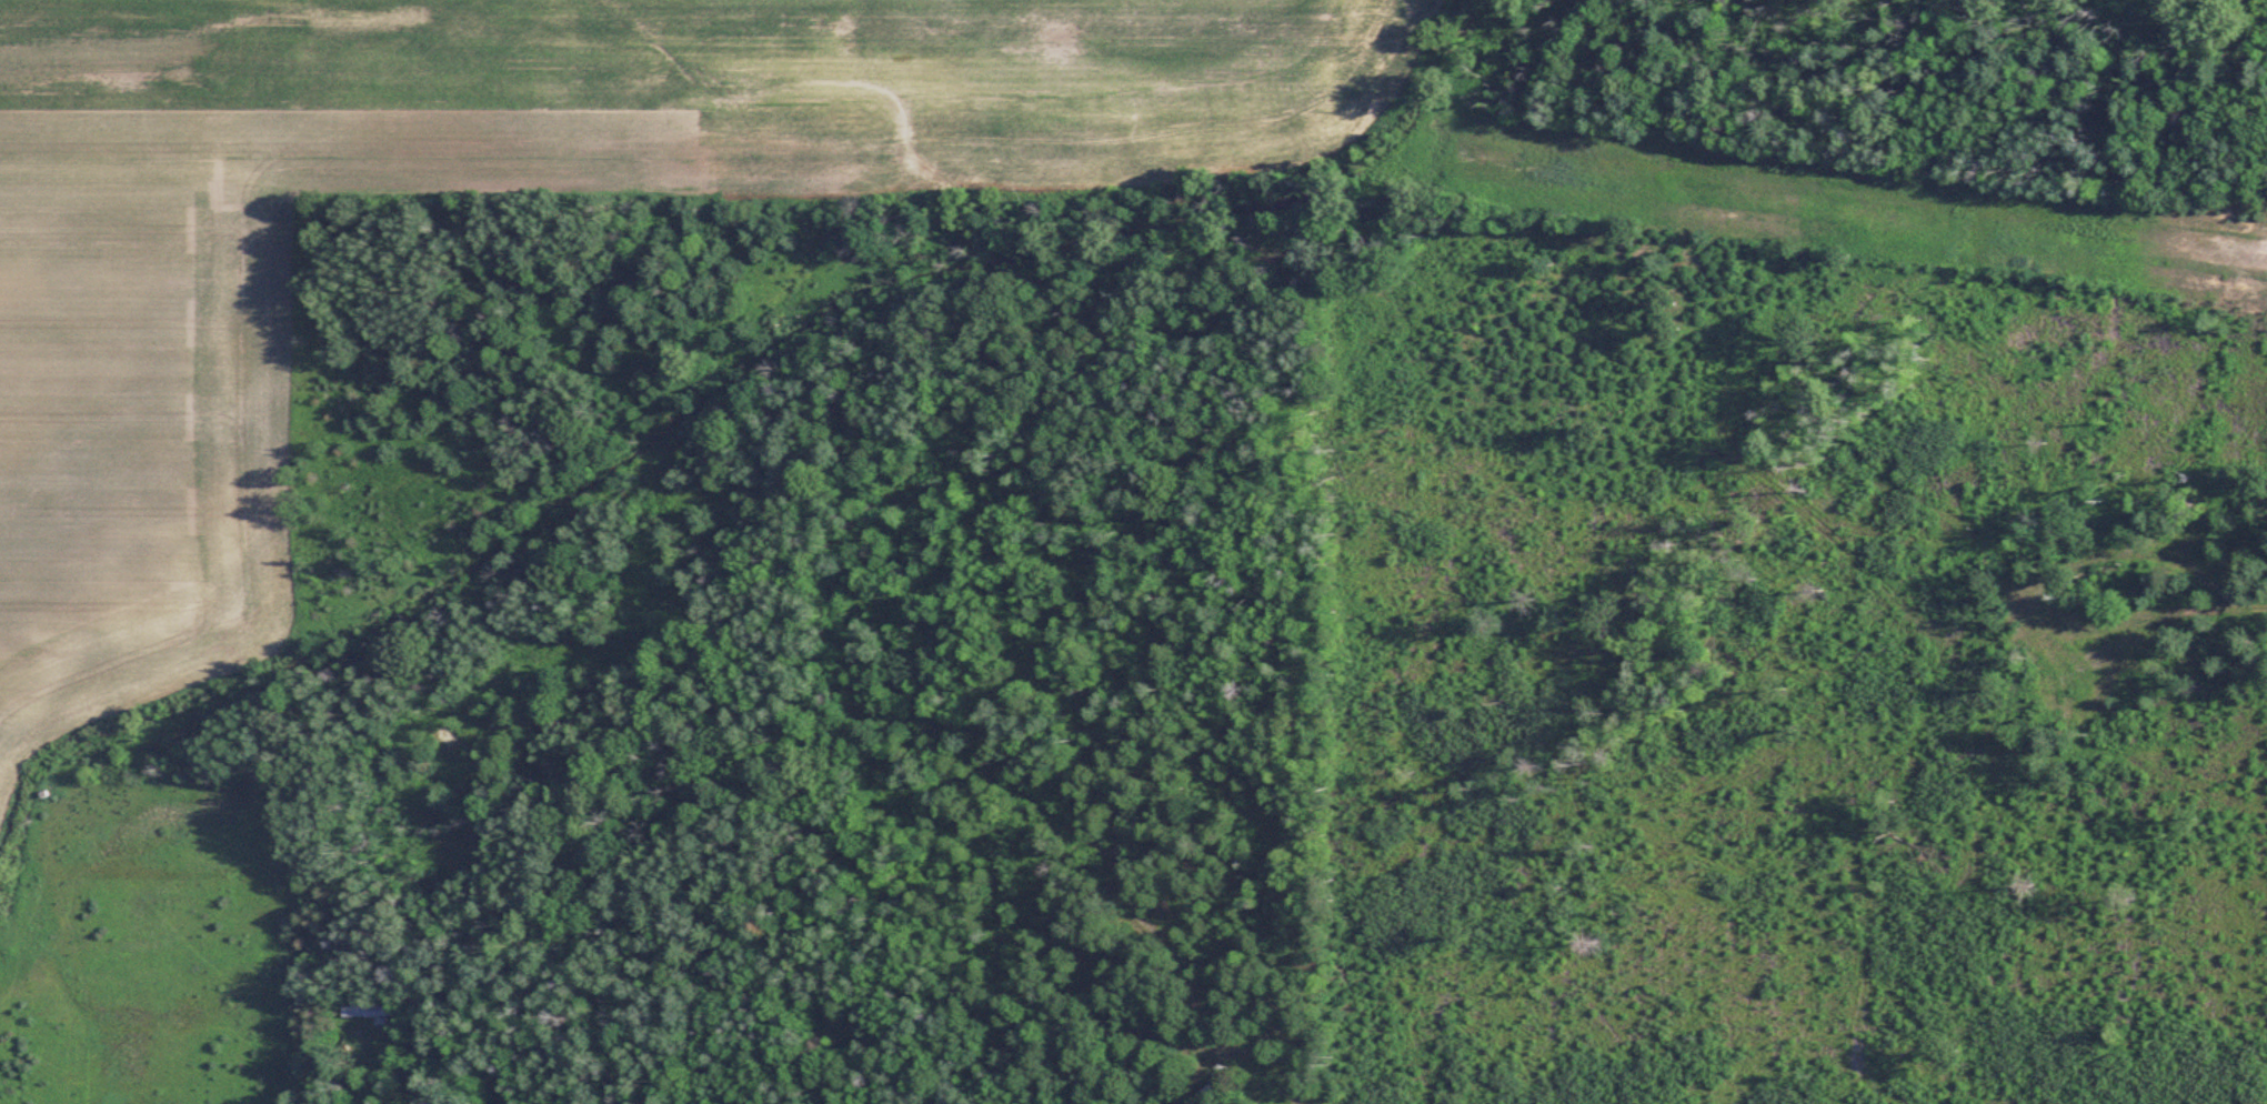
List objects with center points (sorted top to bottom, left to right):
building: (365, 1011)

